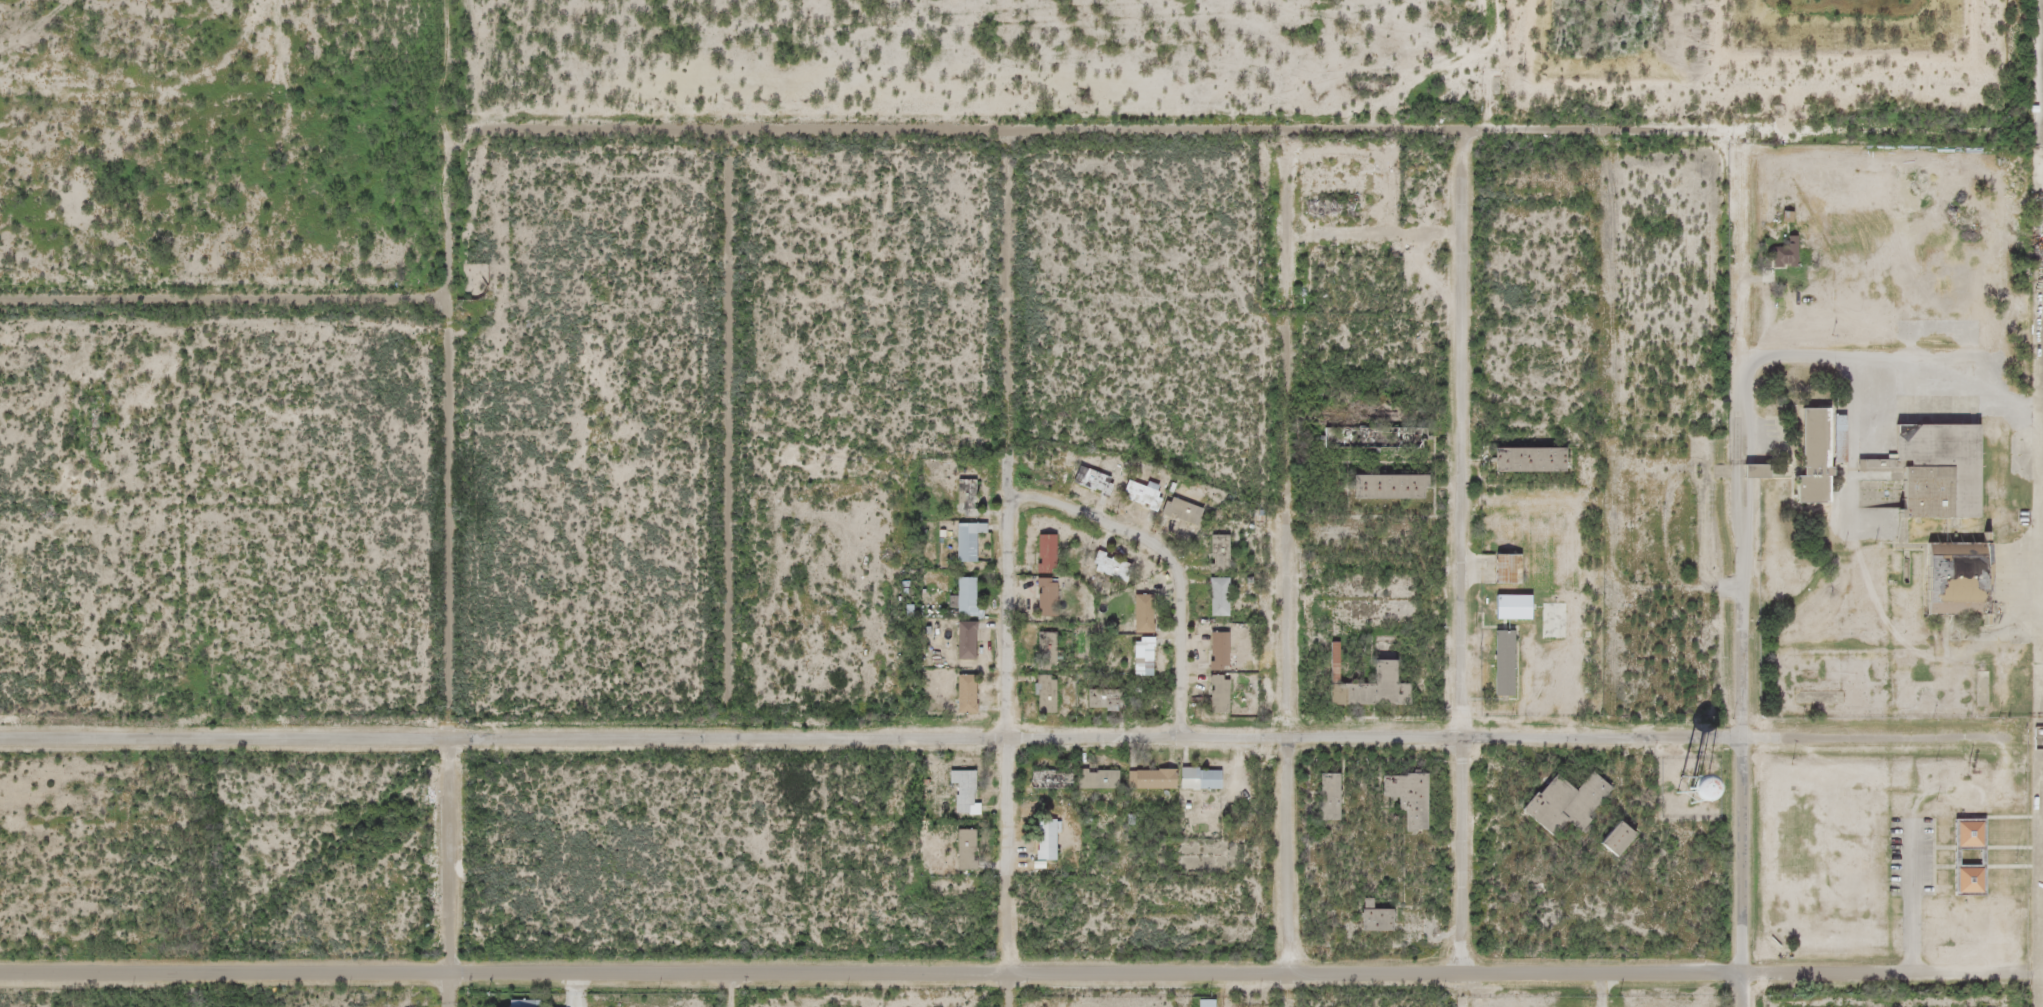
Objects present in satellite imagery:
road: (1102, 131)
building: (1792, 252)
road: (223, 296)
road: (1294, 434)
building: (1384, 434)
road: (733, 436)
building: (1824, 455)
building: (1540, 457)
building: (1944, 466)
building: (1756, 472)
building: (1100, 479)
building: (1400, 483)
building: (973, 495)
building: (1149, 495)
building: (1192, 509)
building: (1180, 511)
airport apron: (2041, 511)
building: (974, 541)
airport: (1903, 542)
building: (1053, 552)
building: (1228, 552)
road: (1470, 553)
road: (1014, 554)
building: (1044, 554)
building: (1217, 554)
road: (1175, 560)
building: (1119, 565)
building: (1511, 568)
road: (449, 574)
road: (1747, 575)
building: (1966, 575)
building: (976, 594)
building: (1228, 594)
building: (1055, 595)
building: (964, 596)
building: (1217, 597)
building: (1045, 598)
building: (1150, 611)
building: (972, 638)
building: (1228, 649)
building: (1057, 650)
building: (1217, 651)
building: (1151, 656)
building: (1141, 657)
building: (1511, 663)
building: (1376, 684)
building: (972, 692)
building: (1228, 693)
building: (1044, 694)
building: (1055, 694)
building: (1217, 695)
building: (1113, 697)
road: (1609, 737)
road: (735, 739)
building: (1209, 777)
building: (1060, 778)
building: (1163, 778)
building: (1110, 780)
water tower: (1694, 786)
building: (970, 787)
building: (1333, 795)
building: (1415, 798)
building: (1572, 801)
building: (1623, 838)
building: (1053, 839)
building: (974, 847)
building: (964, 850)
road: (1291, 856)
building: (1969, 857)
building: (1379, 916)
road: (1011, 976)
road: (723, 990)
road: (1465, 991)
building: (1205, 1003)

